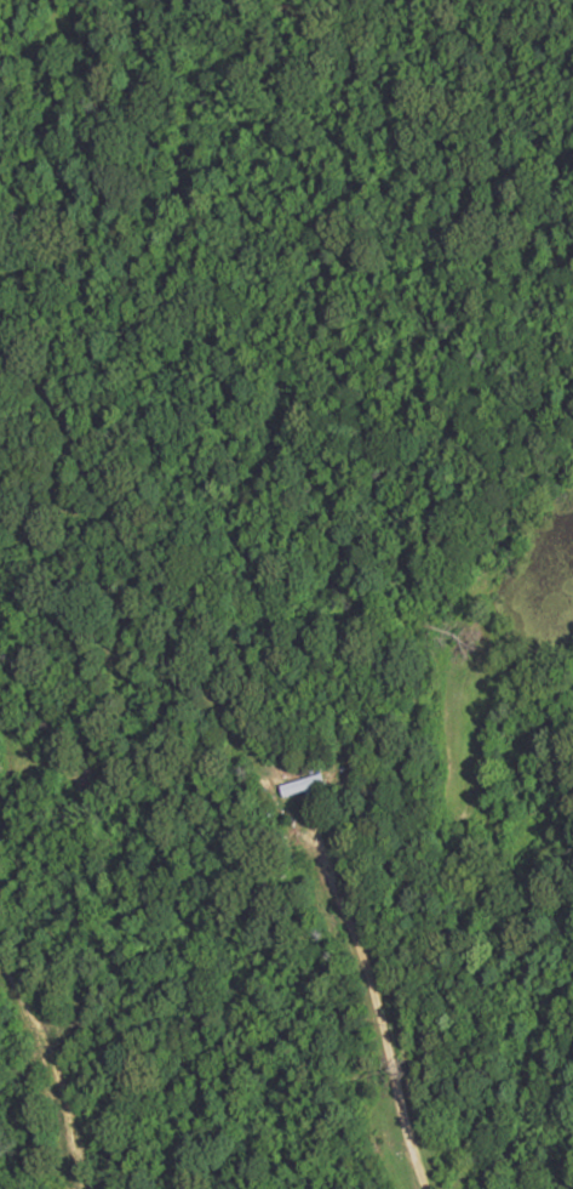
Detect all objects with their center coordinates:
building: (304, 785)

